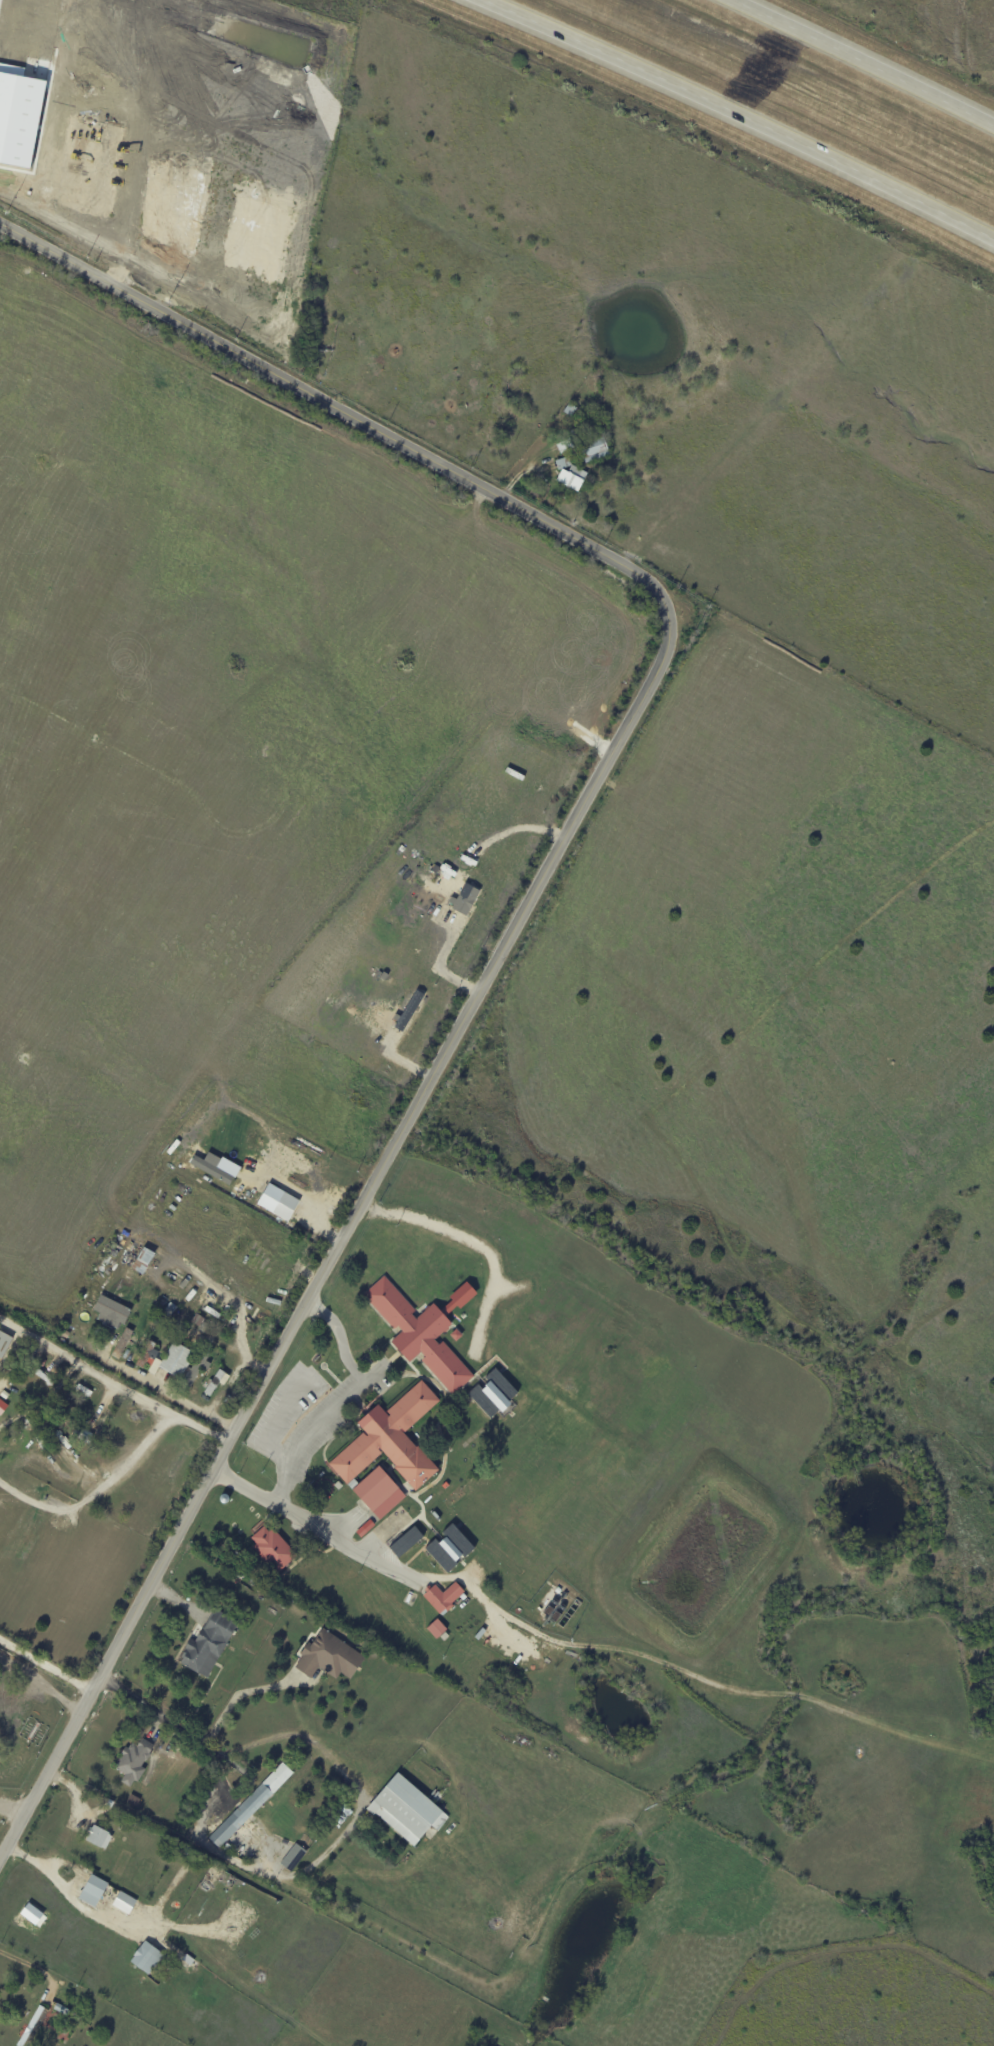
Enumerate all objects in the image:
road: (861, 66)
road: (717, 115)
road: (28, 319)
building: (571, 410)
building: (594, 447)
building: (564, 462)
building: (572, 480)
road: (123, 716)
building: (466, 897)
road: (531, 897)
building: (409, 1011)
road: (15, 1101)
building: (217, 1166)
road: (299, 1196)
building: (279, 1201)
road: (470, 1245)
building: (146, 1256)
building: (113, 1308)
building: (212, 1308)
building: (168, 1312)
building: (198, 1320)
building: (204, 1327)
road: (239, 1329)
building: (424, 1330)
building: (458, 1334)
building: (4, 1343)
building: (122, 1344)
building: (147, 1354)
building: (154, 1354)
building: (177, 1358)
road: (86, 1370)
building: (189, 1370)
building: (49, 1375)
building: (215, 1383)
road: (369, 1384)
building: (495, 1393)
building: (2, 1405)
road: (347, 1405)
building: (42, 1406)
road: (273, 1429)
road: (199, 1431)
building: (393, 1440)
building: (381, 1493)
road: (97, 1496)
building: (368, 1526)
building: (407, 1540)
building: (451, 1547)
building: (274, 1550)
building: (255, 1580)
road: (412, 1581)
building: (444, 1598)
building: (437, 1629)
building: (210, 1644)
building: (330, 1657)
road: (46, 1665)
road: (41, 1681)
road: (237, 1695)
road: (208, 1752)
building: (134, 1762)
building: (252, 1805)
building: (406, 1810)
building: (99, 1837)
building: (195, 1854)
building: (294, 1858)
road: (254, 1871)
road: (61, 1891)
building: (93, 1891)
building: (124, 1902)
building: (32, 1913)
building: (147, 1958)
road: (26, 1964)
building: (60, 2009)
building: (34, 2027)
building: (66, 2032)

